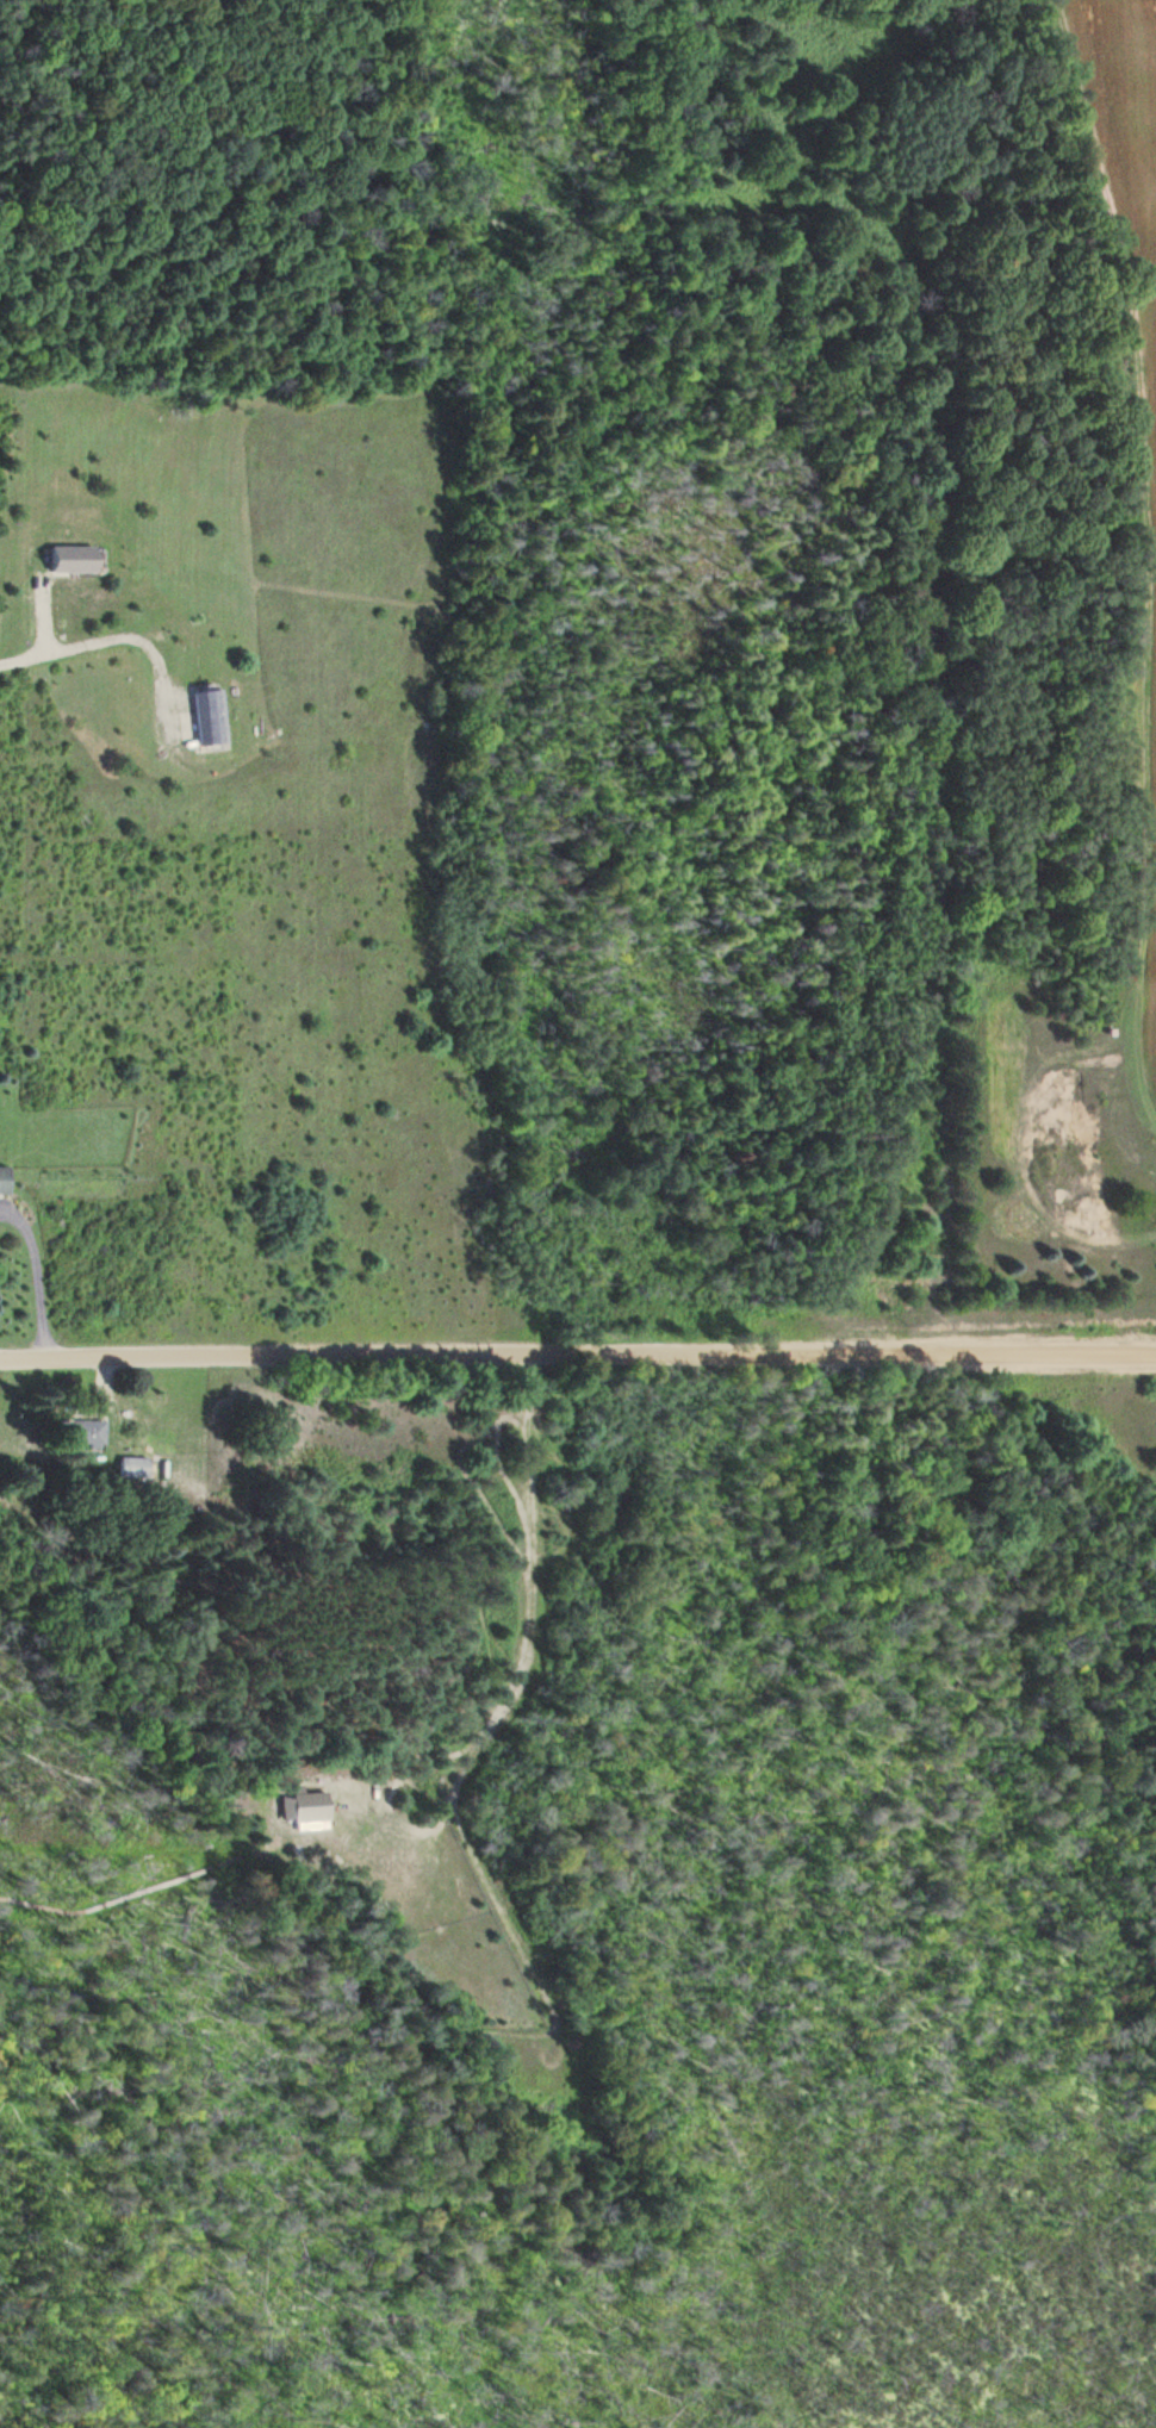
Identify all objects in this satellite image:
building: (210, 717)
building: (4, 1179)
road: (577, 1359)
building: (82, 1432)
building: (135, 1467)
building: (310, 1806)

